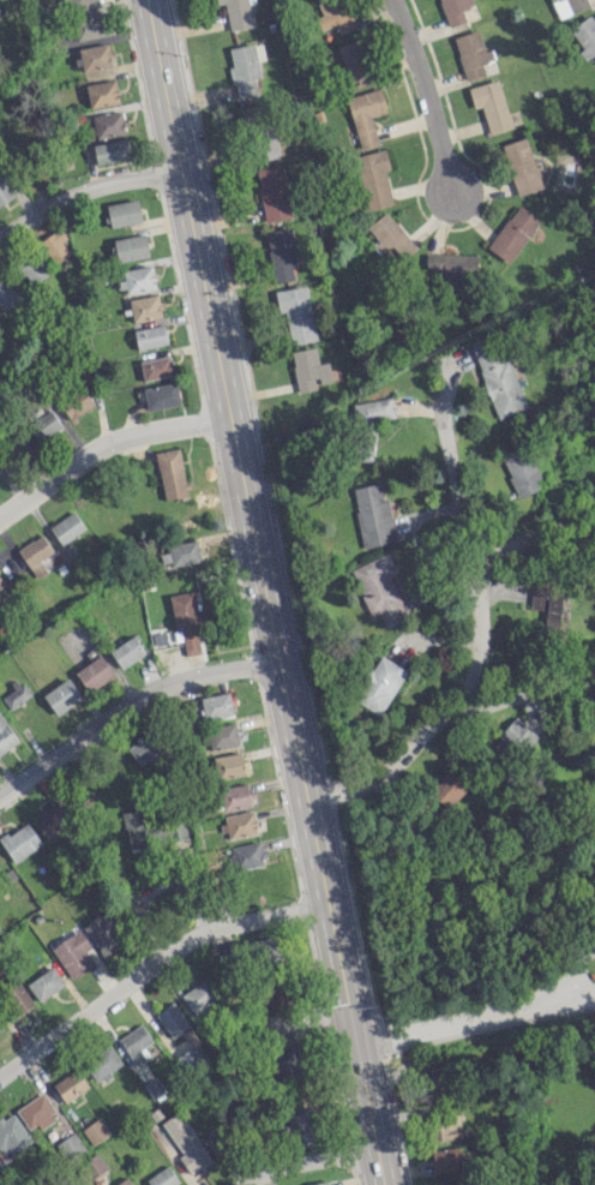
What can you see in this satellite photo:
building: (77, 4)
building: (567, 6)
building: (455, 10)
building: (238, 13)
building: (333, 14)
building: (0, 16)
building: (88, 26)
building: (584, 35)
building: (470, 53)
building: (96, 56)
building: (354, 61)
building: (244, 70)
building: (102, 92)
road: (421, 96)
building: (491, 104)
building: (366, 114)
building: (248, 115)
building: (108, 124)
building: (265, 142)
building: (110, 151)
building: (521, 166)
building: (374, 178)
building: (4, 191)
building: (272, 192)
road: (83, 196)
building: (124, 213)
building: (512, 233)
building: (389, 234)
building: (54, 246)
building: (131, 247)
building: (281, 252)
building: (32, 268)
building: (450, 269)
building: (137, 279)
building: (6, 292)
building: (145, 307)
building: (296, 315)
building: (150, 336)
building: (156, 366)
building: (308, 369)
building: (497, 376)
building: (161, 395)
building: (77, 402)
building: (374, 411)
building: (43, 425)
building: (368, 445)
building: (14, 447)
road: (103, 449)
building: (521, 469)
building: (172, 473)
building: (372, 514)
building: (67, 527)
road: (463, 527)
building: (180, 552)
building: (36, 553)
building: (1, 583)
building: (379, 588)
road: (260, 593)
building: (546, 603)
building: (188, 621)
building: (127, 651)
building: (94, 672)
building: (379, 684)
building: (62, 695)
building: (216, 705)
road: (127, 710)
road: (439, 710)
building: (6, 735)
building: (222, 735)
building: (515, 738)
building: (144, 747)
building: (228, 764)
building: (449, 786)
building: (234, 795)
building: (53, 818)
building: (239, 824)
building: (151, 828)
building: (20, 842)
building: (247, 854)
building: (103, 933)
building: (264, 951)
building: (73, 953)
road: (561, 965)
road: (154, 970)
building: (44, 983)
building: (18, 998)
building: (202, 998)
road: (475, 1016)
building: (172, 1019)
building: (136, 1042)
building: (101, 1063)
building: (287, 1064)
building: (70, 1085)
building: (36, 1112)
building: (299, 1126)
building: (446, 1127)
building: (96, 1130)
building: (11, 1135)
building: (186, 1143)
building: (70, 1145)
road: (305, 1157)
building: (451, 1159)
building: (0, 1166)
building: (92, 1166)
building: (163, 1177)
building: (125, 1181)
building: (319, 1183)
building: (462, 1184)

